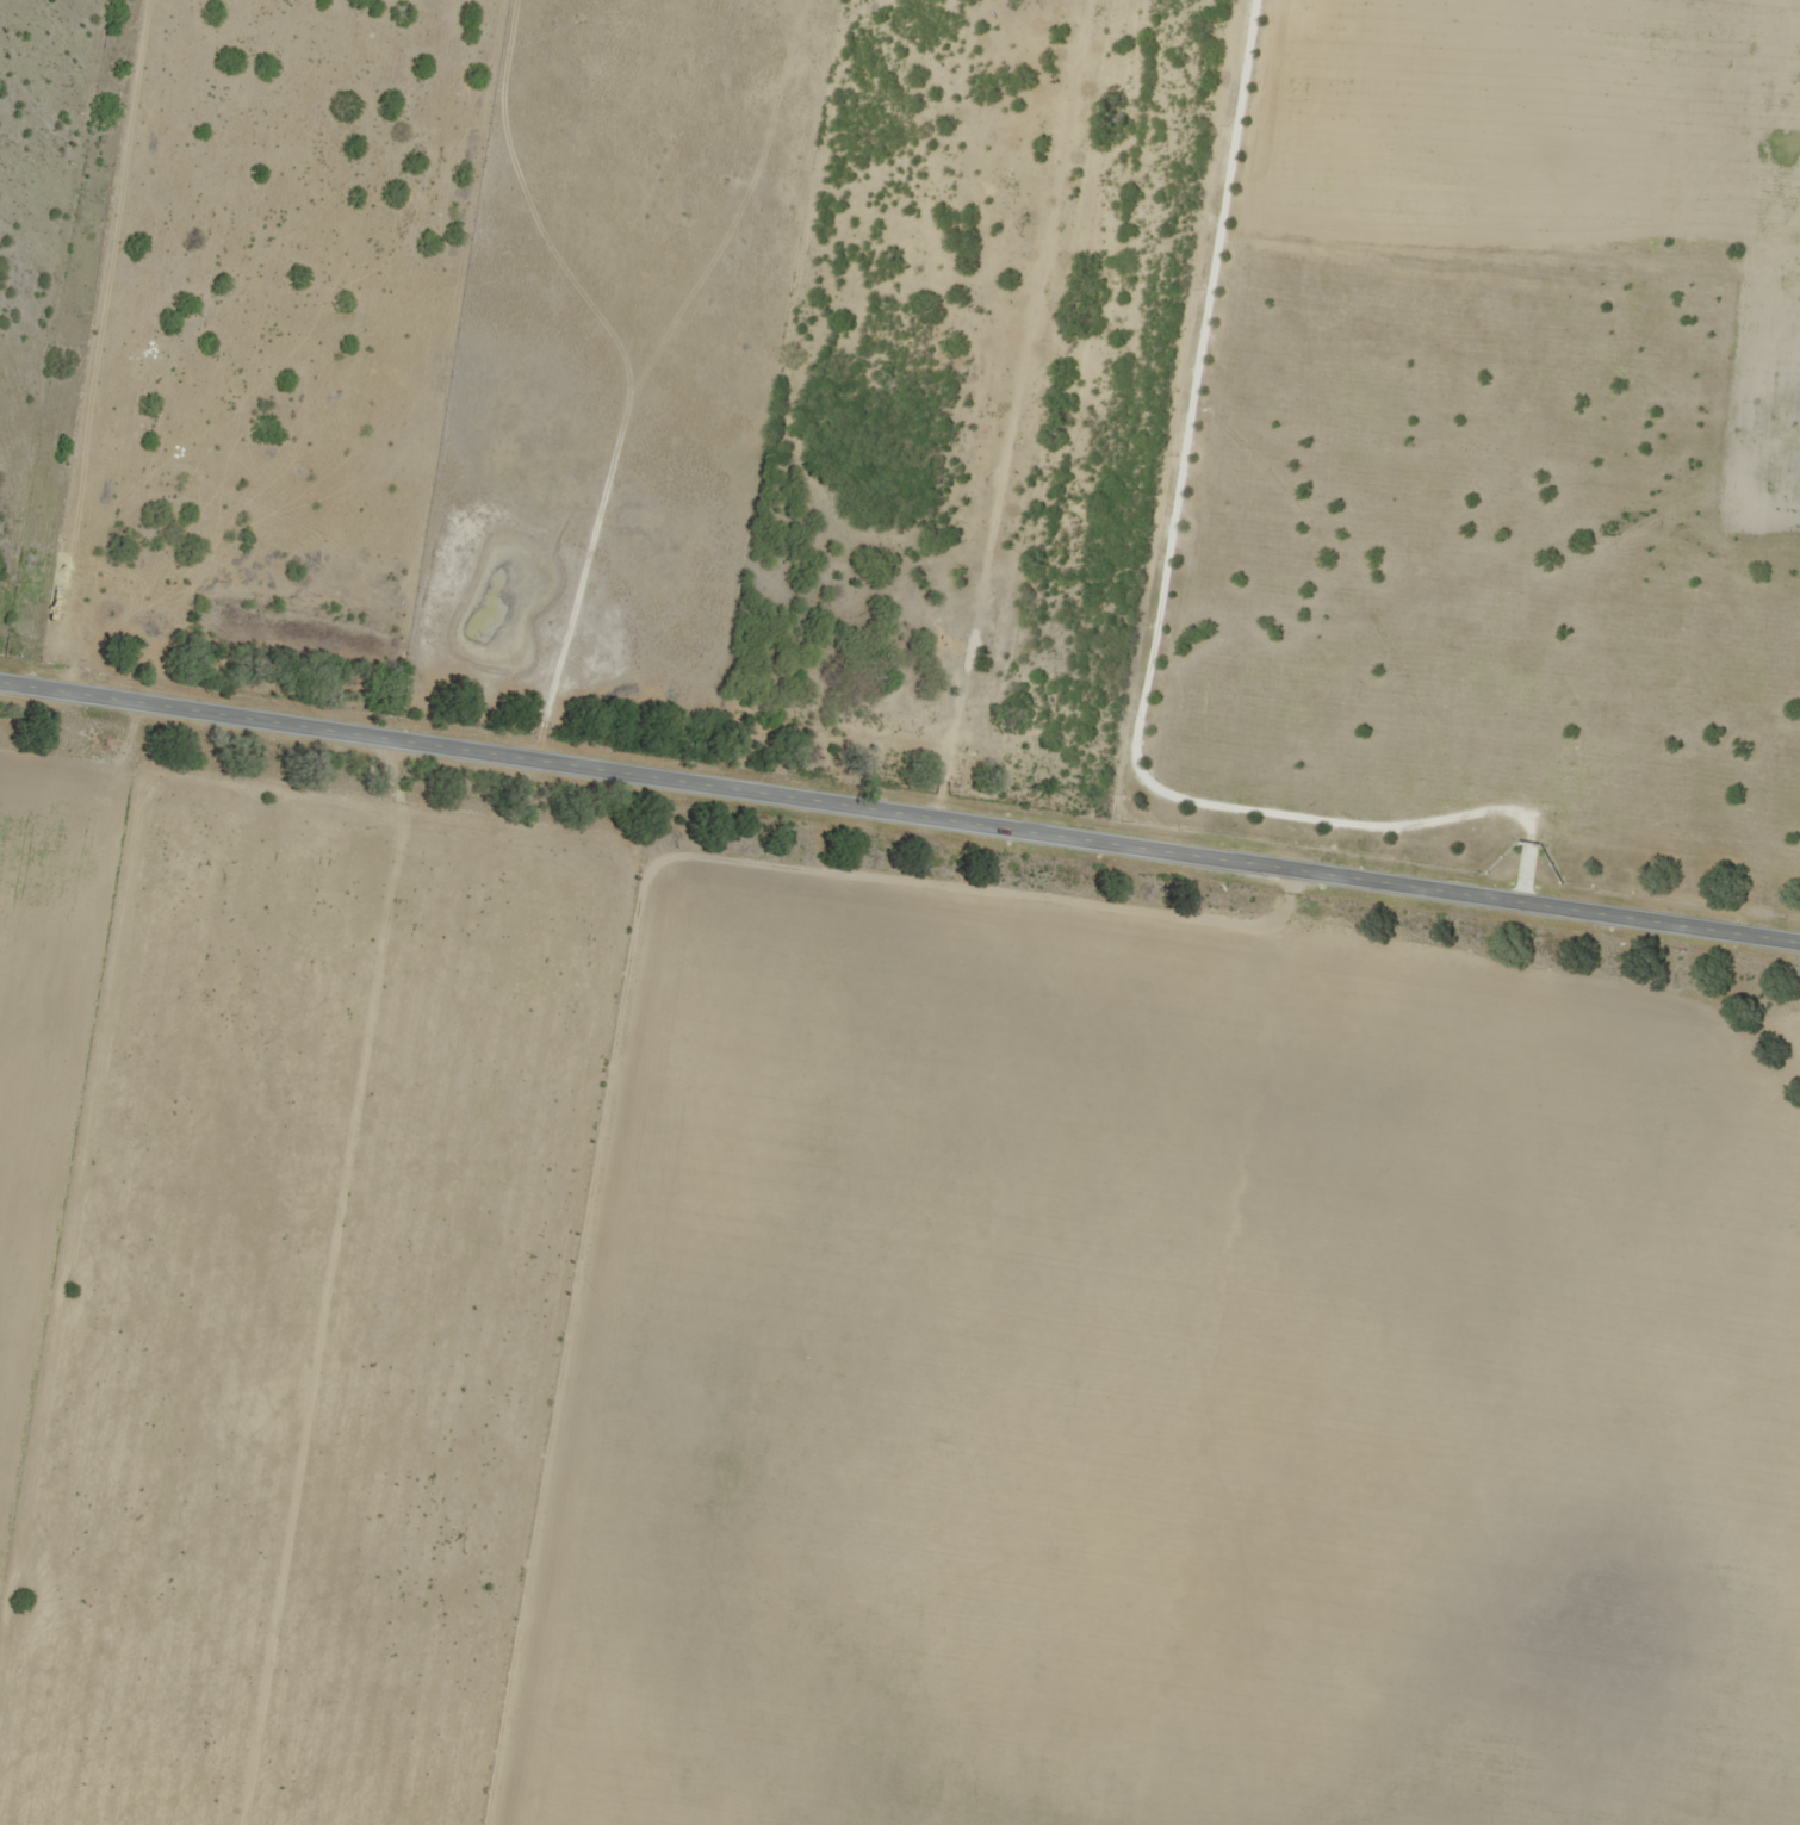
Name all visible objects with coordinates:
road: (900, 814)

